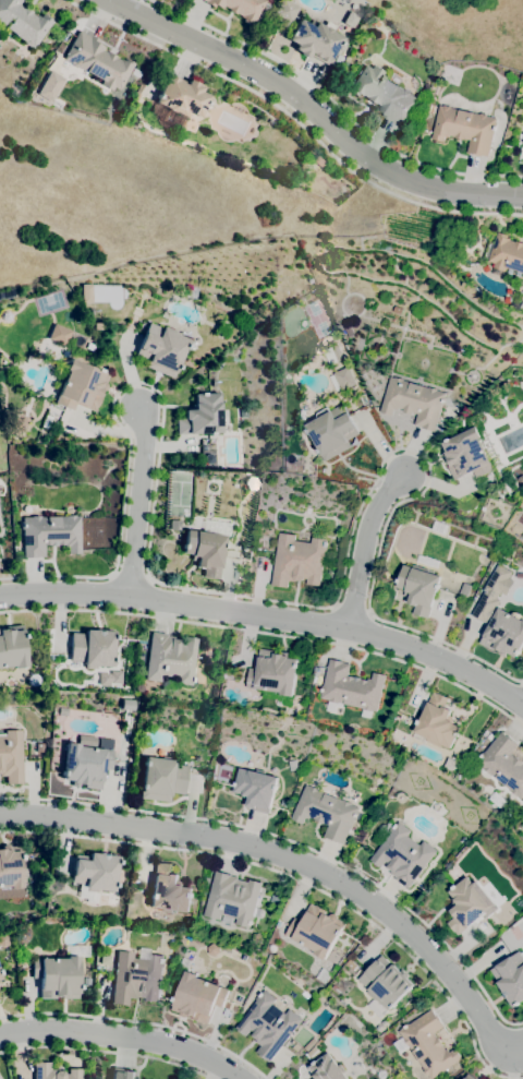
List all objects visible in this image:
building: (240, 8)
building: (284, 10)
building: (22, 22)
building: (314, 40)
building: (97, 61)
building: (48, 86)
building: (384, 95)
building: (182, 97)
building: (134, 98)
road: (333, 103)
building: (431, 108)
road: (315, 115)
road: (294, 120)
building: (465, 128)
building: (181, 129)
building: (317, 160)
building: (507, 253)
building: (84, 292)
building: (7, 293)
building: (522, 298)
building: (59, 334)
building: (89, 346)
building: (161, 349)
building: (333, 353)
building: (342, 379)
building: (81, 386)
building: (413, 401)
building: (243, 412)
building: (200, 416)
building: (46, 421)
building: (331, 431)
building: (466, 455)
road: (137, 504)
building: (174, 525)
building: (49, 533)
road: (365, 547)
building: (205, 551)
building: (300, 560)
building: (427, 561)
building: (419, 588)
building: (465, 589)
road: (246, 596)
building: (499, 616)
road: (269, 618)
road: (270, 634)
building: (13, 647)
building: (92, 648)
building: (170, 658)
building: (273, 672)
building: (108, 678)
building: (351, 688)
building: (437, 722)
building: (39, 747)
building: (11, 756)
building: (503, 763)
building: (451, 764)
building: (85, 765)
building: (292, 765)
building: (161, 779)
building: (256, 789)
building: (498, 800)
building: (326, 812)
building: (514, 813)
road: (294, 843)
building: (401, 853)
road: (297, 861)
building: (10, 866)
building: (95, 873)
road: (301, 882)
building: (168, 890)
building: (275, 898)
building: (233, 900)
building: (466, 906)
building: (279, 924)
building: (316, 930)
building: (257, 939)
building: (272, 949)
building: (352, 964)
building: (335, 969)
building: (0, 972)
building: (325, 975)
building: (57, 976)
building: (0, 978)
building: (136, 978)
building: (510, 978)
building: (0, 980)
building: (385, 985)
building: (335, 987)
building: (198, 998)
building: (344, 1003)
road: (138, 1021)
building: (268, 1024)
building: (381, 1026)
building: (389, 1035)
road: (124, 1039)
building: (357, 1039)
building: (311, 1044)
building: (427, 1045)
building: (295, 1047)
building: (313, 1051)
road: (106, 1052)
building: (357, 1065)
building: (327, 1068)
building: (53, 1072)
building: (122, 1075)
building: (382, 1075)
building: (465, 1078)
building: (469, 1078)

